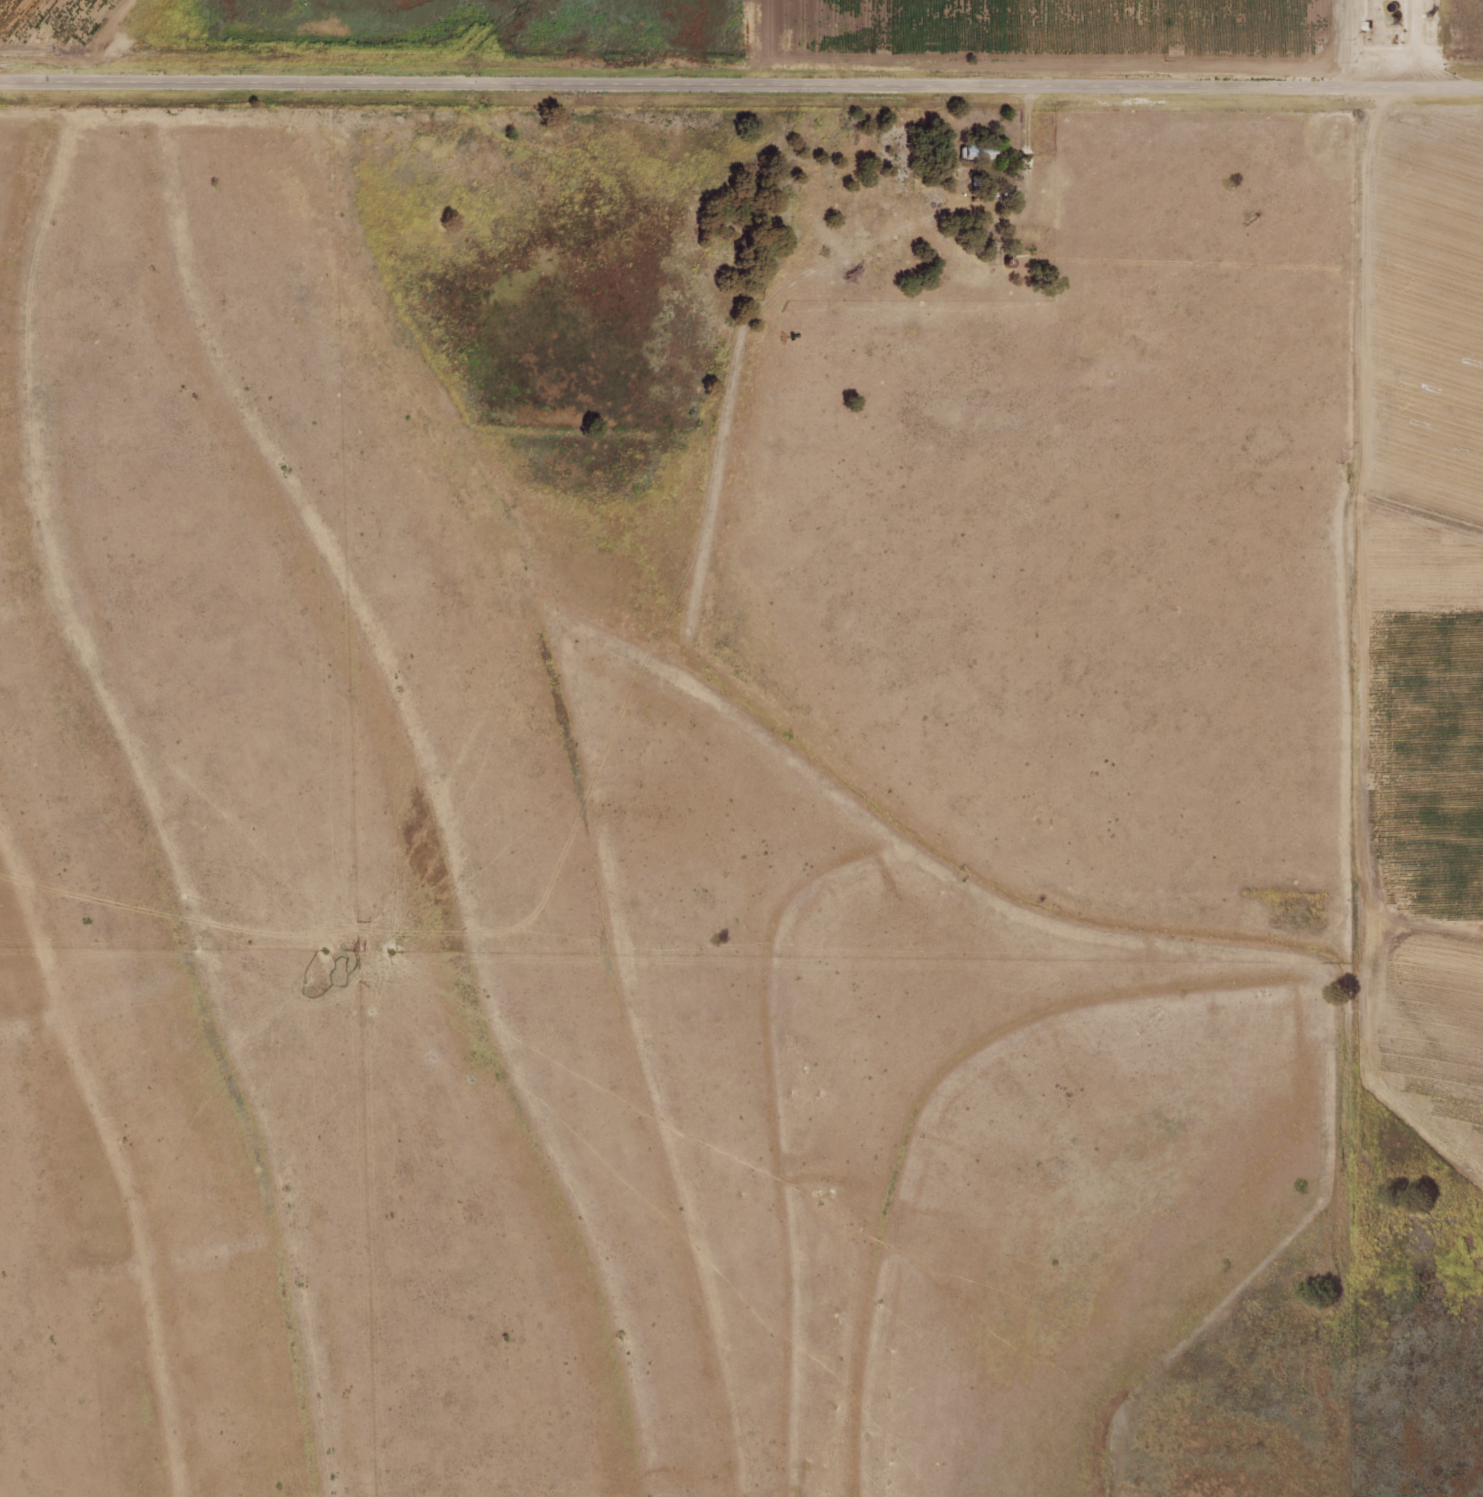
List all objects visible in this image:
road: (1317, 46)
road: (741, 91)

